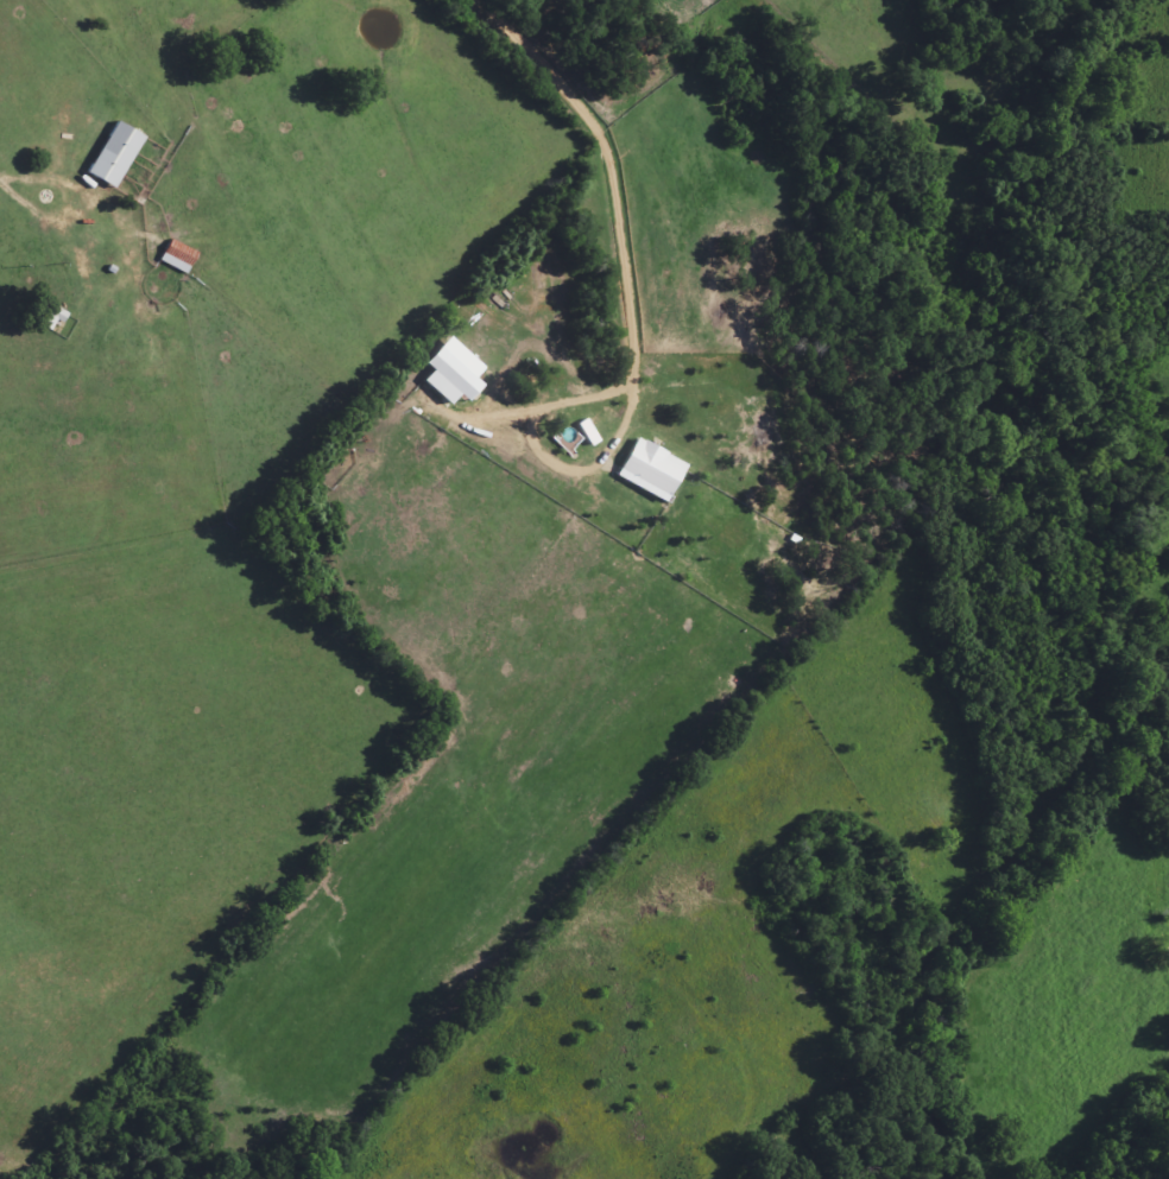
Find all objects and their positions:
road: (122, 102)
building: (107, 156)
building: (171, 258)
building: (195, 267)
building: (42, 315)

